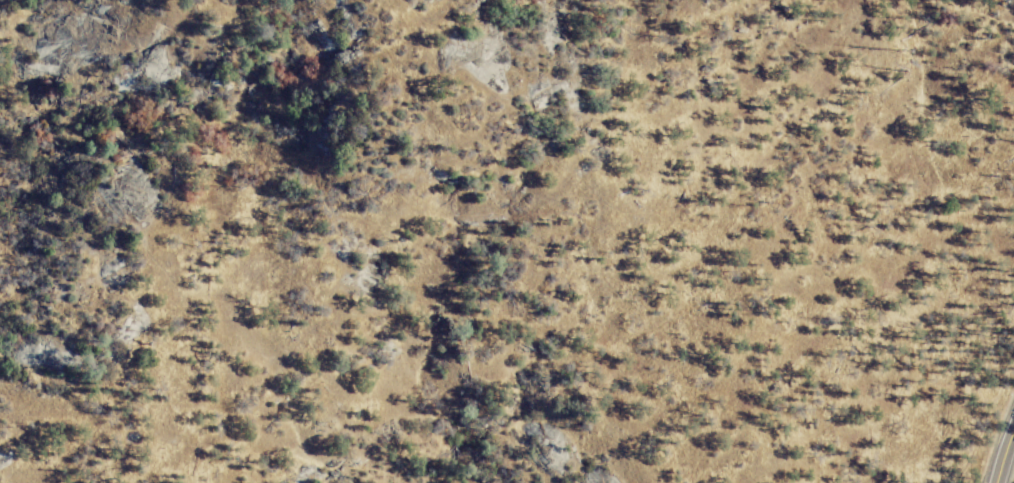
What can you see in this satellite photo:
road: (1006, 460)

